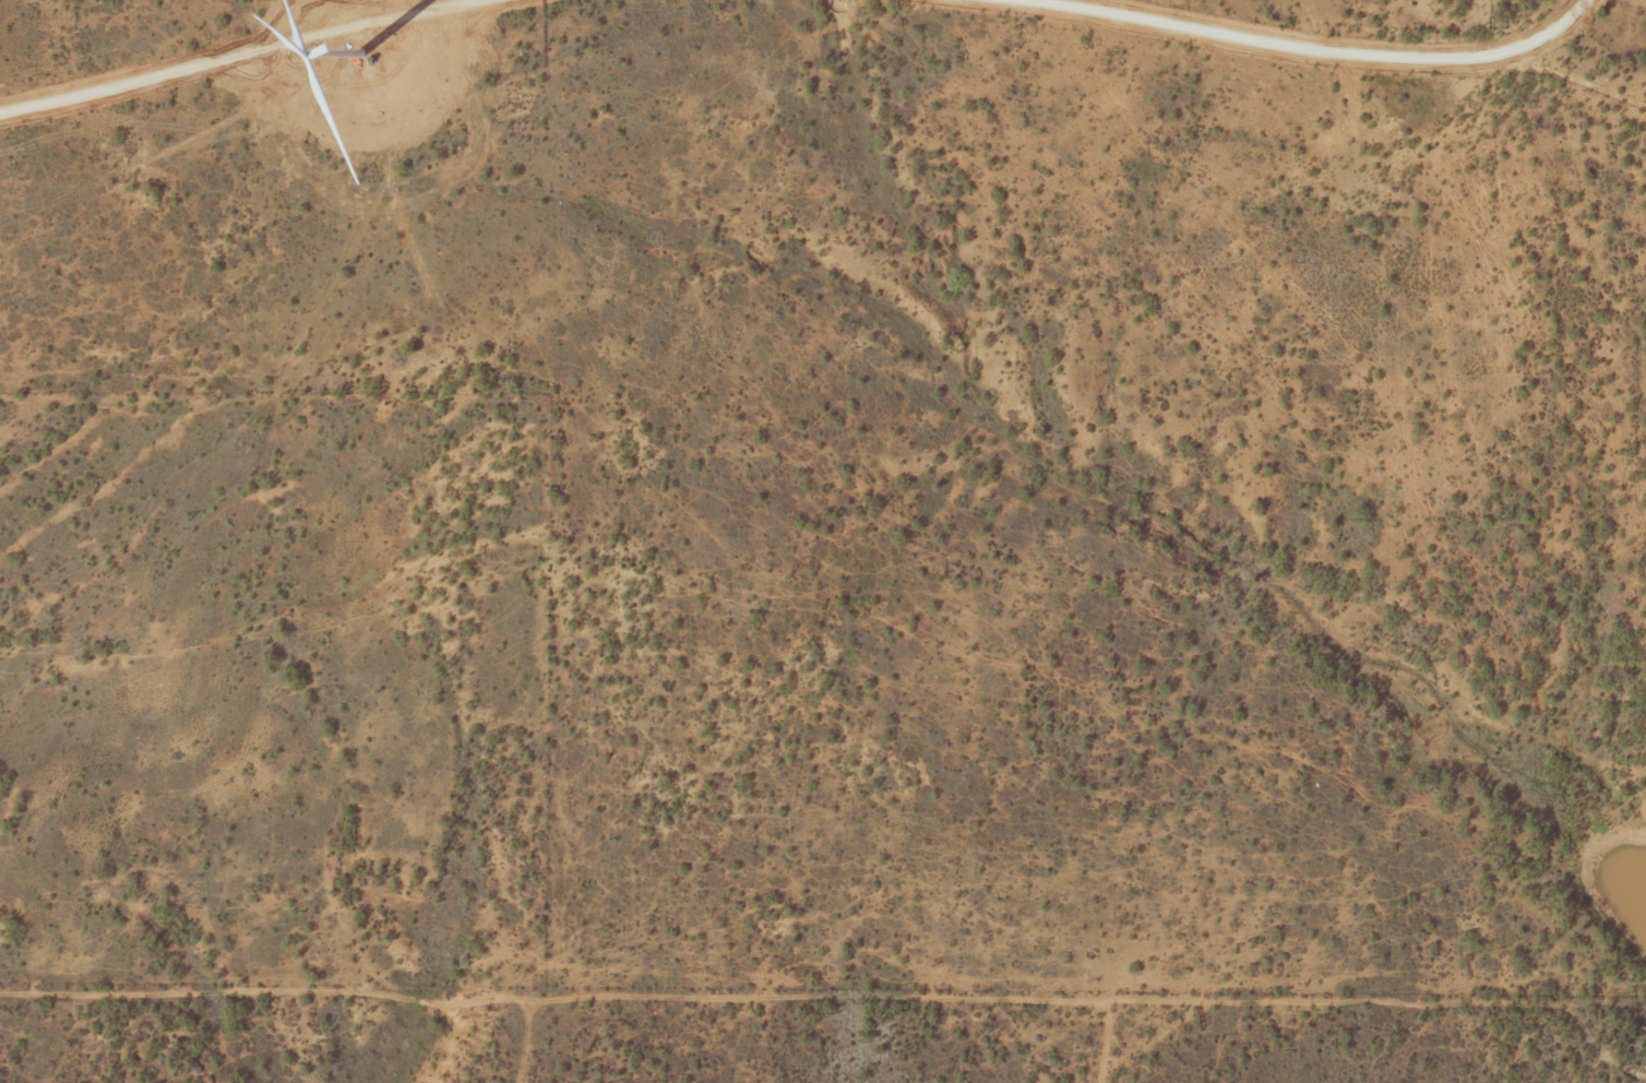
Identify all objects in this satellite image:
road: (825, 15)
wind turbine: (360, 46)

